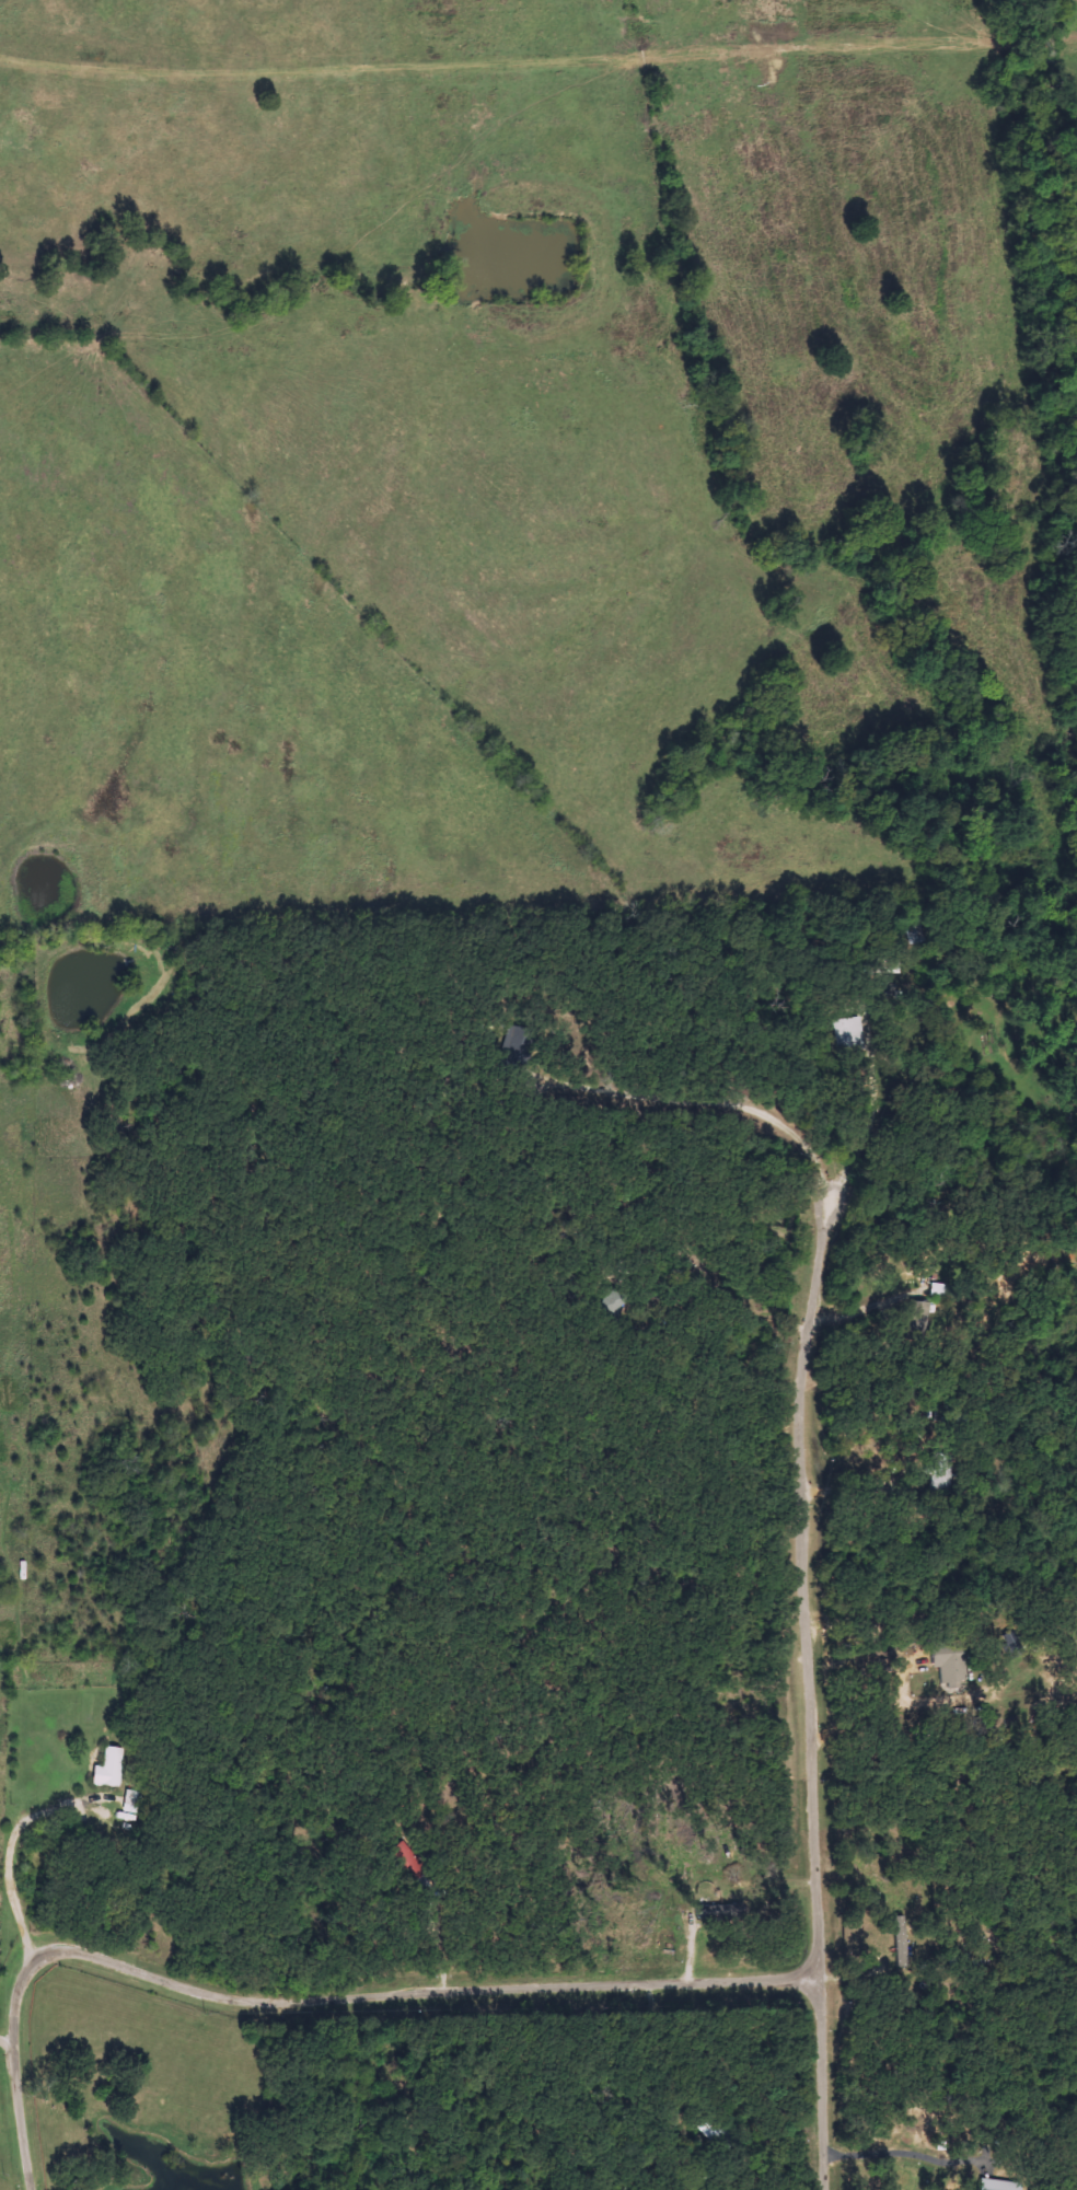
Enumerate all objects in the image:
road: (716, 1101)
road: (871, 1119)
building: (919, 1318)
building: (940, 1471)
building: (947, 1662)
road: (808, 1689)
building: (106, 1769)
road: (18, 1864)
road: (313, 2002)
road: (11, 2048)
road: (907, 2154)
building: (999, 2185)

